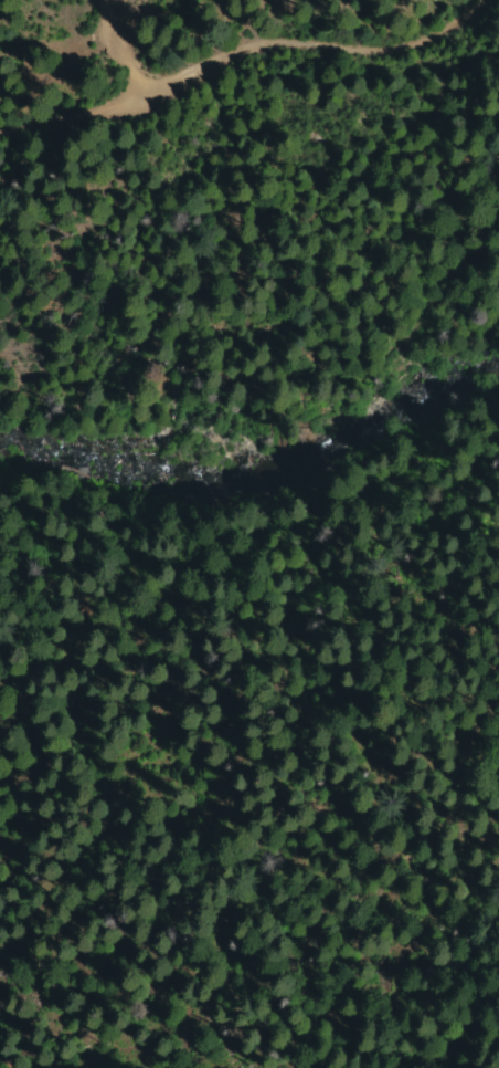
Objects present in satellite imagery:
road: (251, 46)
river: (257, 475)

